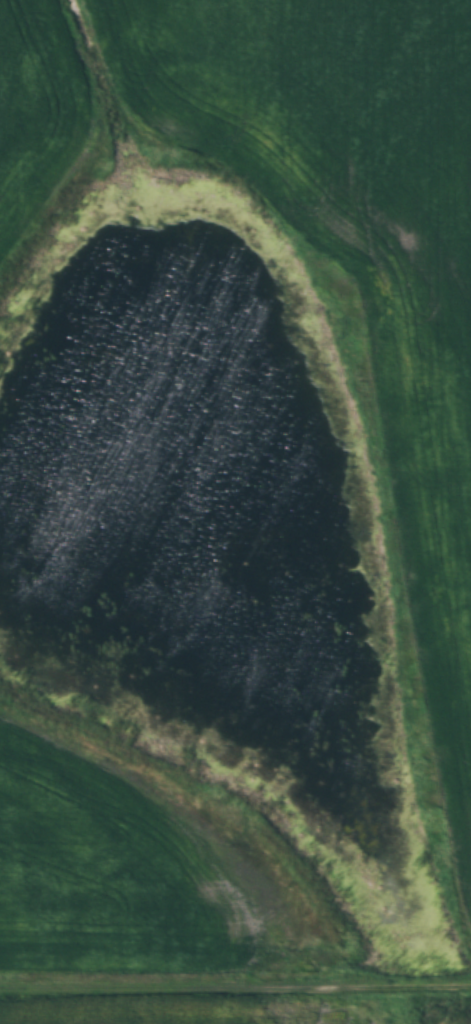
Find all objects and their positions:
road: (235, 999)

